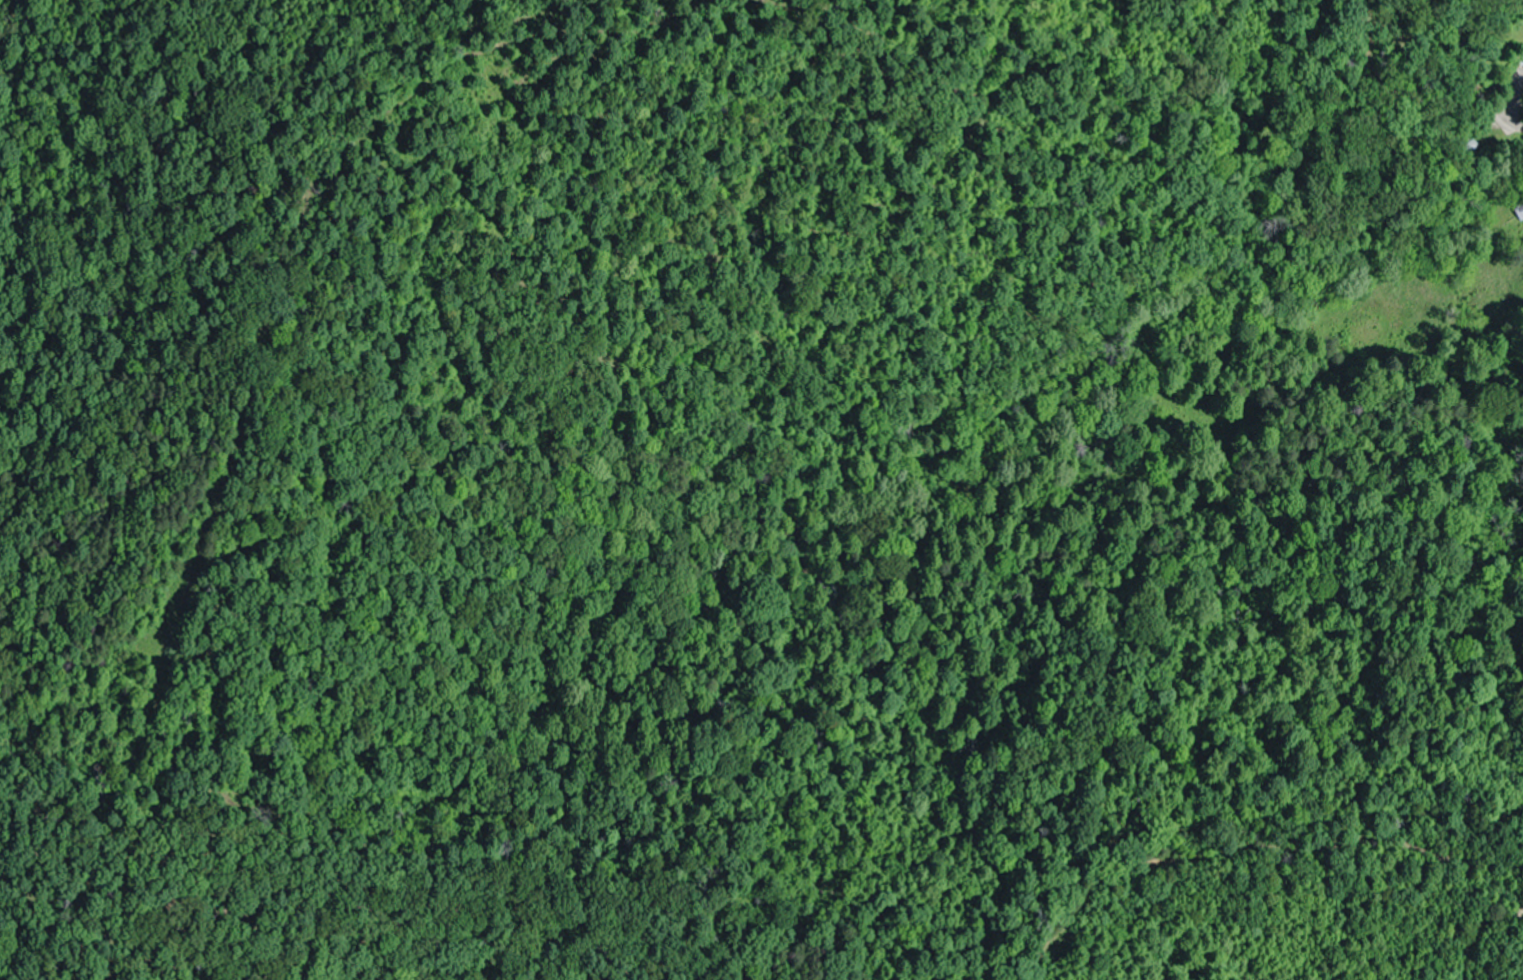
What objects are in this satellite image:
building: (1519, 136)

